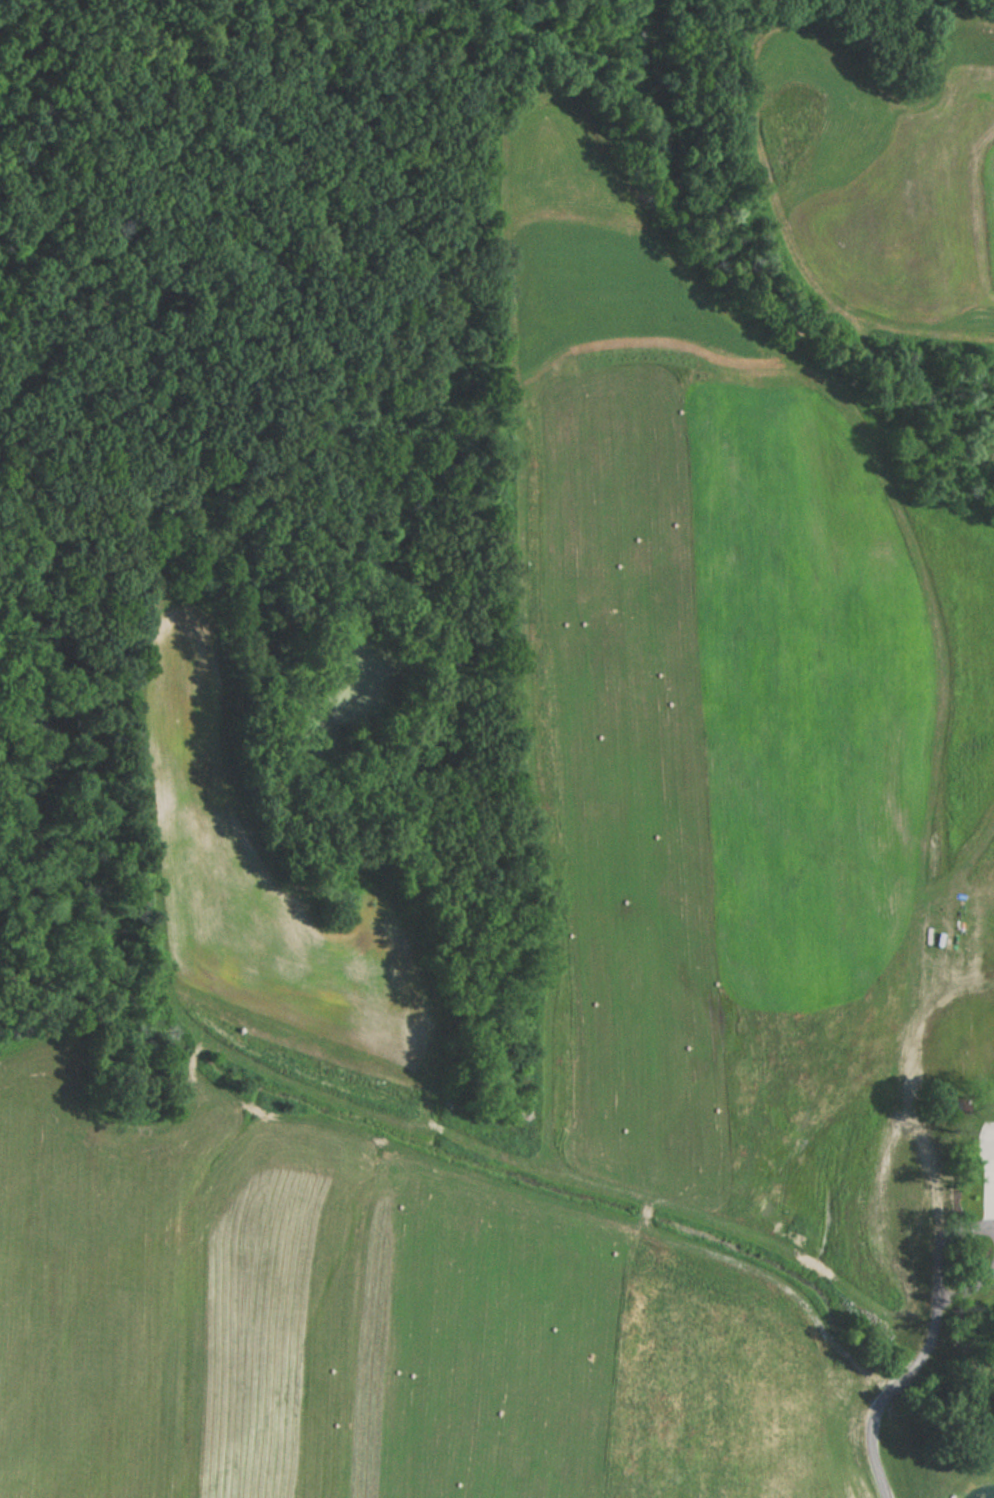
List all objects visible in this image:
road: (965, 1223)
road: (940, 1268)
road: (971, 1284)

